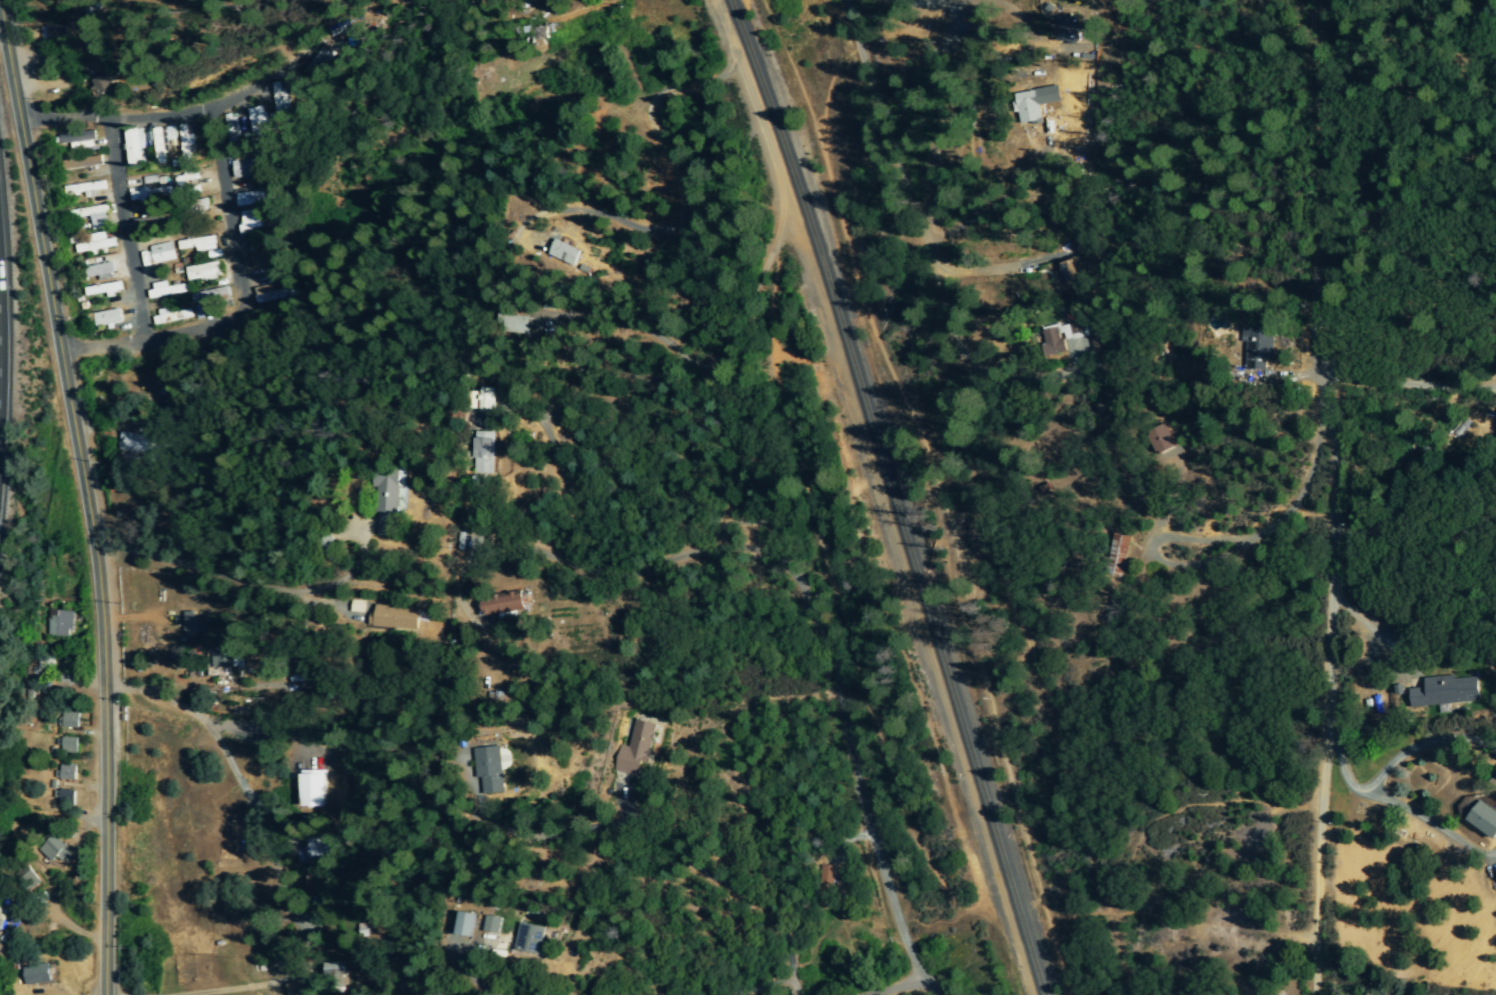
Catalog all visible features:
road: (908, 3)
building: (537, 33)
building: (318, 62)
building: (99, 86)
building: (280, 101)
building: (1034, 103)
road: (207, 110)
building: (258, 121)
road: (762, 129)
road: (885, 133)
building: (77, 140)
building: (162, 142)
building: (185, 143)
building: (135, 148)
road: (928, 163)
building: (245, 168)
building: (83, 188)
building: (150, 194)
building: (252, 198)
building: (90, 216)
building: (247, 221)
road: (122, 232)
building: (94, 243)
building: (194, 244)
building: (156, 253)
building: (563, 253)
building: (99, 271)
building: (201, 272)
road: (977, 272)
building: (1069, 272)
building: (264, 274)
building: (104, 289)
building: (164, 289)
building: (209, 296)
road: (239, 303)
building: (170, 315)
building: (106, 318)
building: (515, 325)
building: (1054, 339)
building: (1257, 347)
road: (984, 352)
road: (1404, 385)
building: (486, 399)
road: (94, 427)
building: (1159, 439)
building: (134, 444)
building: (483, 453)
road: (1332, 468)
road: (88, 494)
railway: (893, 495)
building: (389, 504)
road: (728, 521)
road: (1380, 534)
road: (1238, 539)
building: (1116, 555)
road: (359, 558)
road: (1189, 566)
road: (219, 576)
building: (501, 603)
building: (356, 606)
road: (323, 608)
building: (392, 617)
building: (58, 623)
building: (191, 623)
road: (1372, 633)
building: (218, 663)
building: (1444, 691)
road: (157, 698)
building: (69, 720)
road: (1421, 744)
building: (68, 745)
building: (635, 750)
road: (317, 754)
building: (489, 769)
road: (1340, 770)
building: (64, 772)
road: (236, 777)
building: (311, 788)
building: (64, 797)
building: (1484, 819)
road: (1433, 826)
building: (53, 850)
road: (877, 853)
building: (824, 875)
road: (729, 888)
building: (464, 924)
building: (491, 924)
building: (528, 938)
road: (1314, 968)
building: (35, 974)
building: (334, 976)
road: (899, 987)
building: (292, 988)

